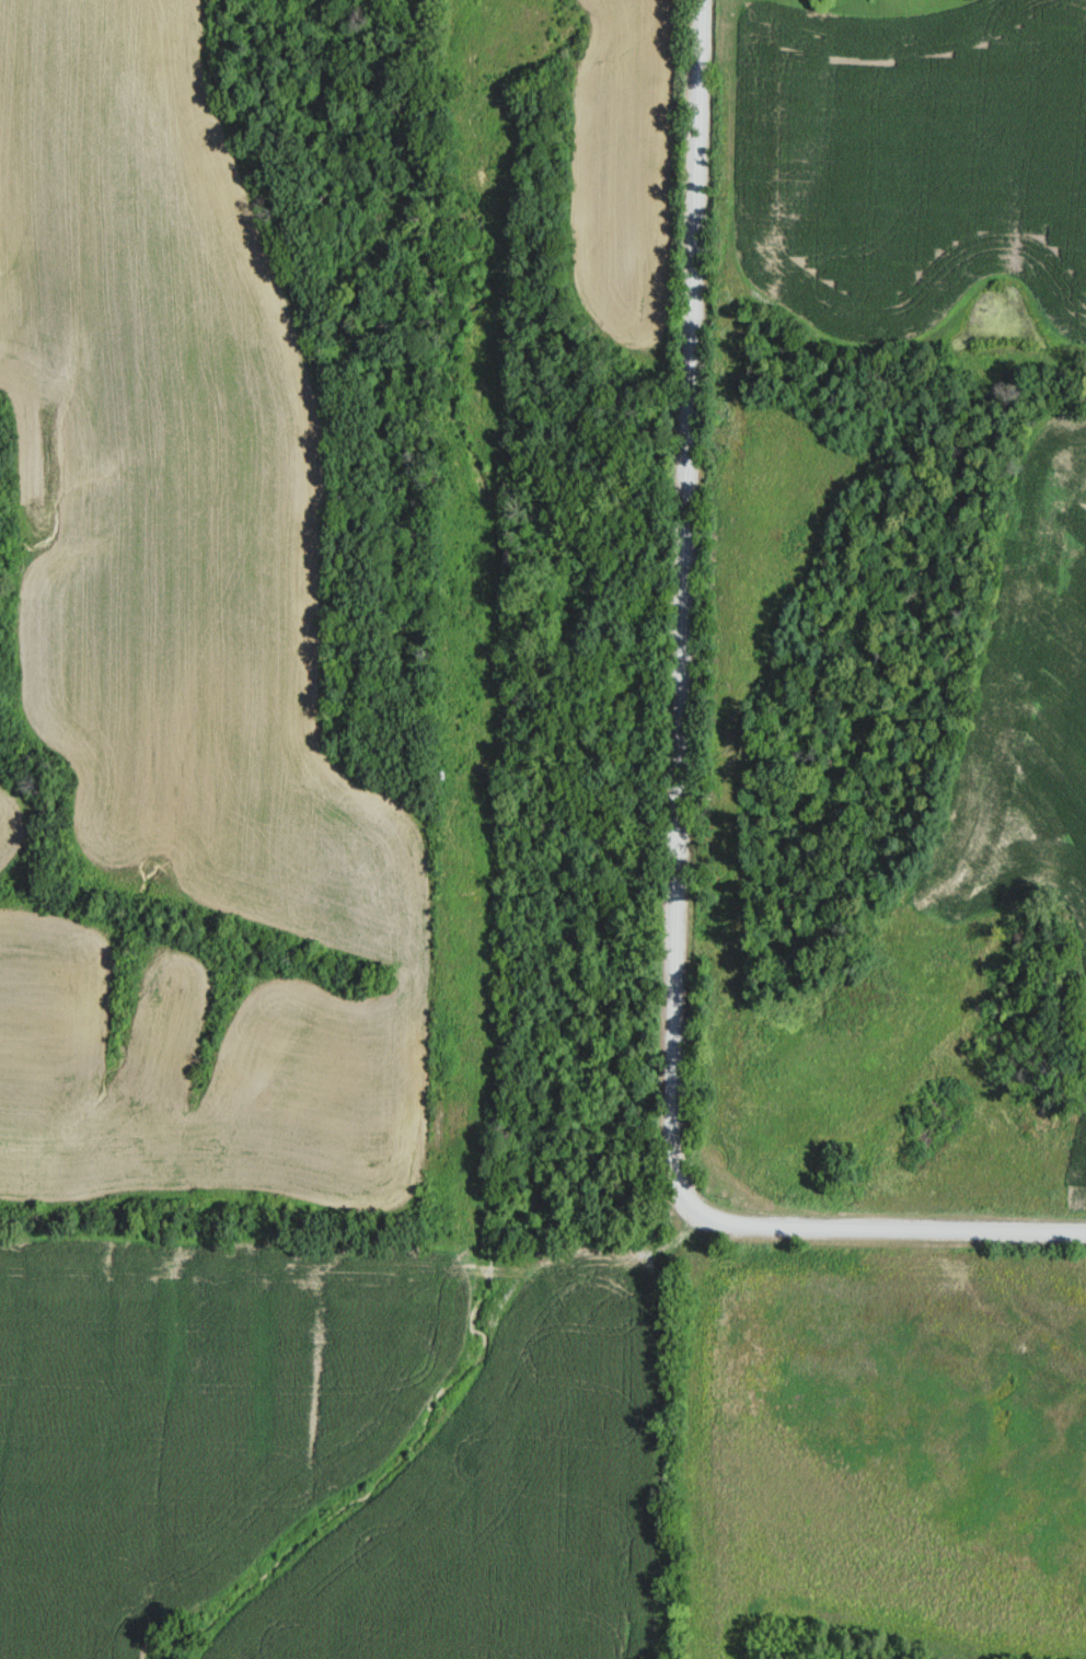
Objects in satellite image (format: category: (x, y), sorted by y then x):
road: (679, 803)

